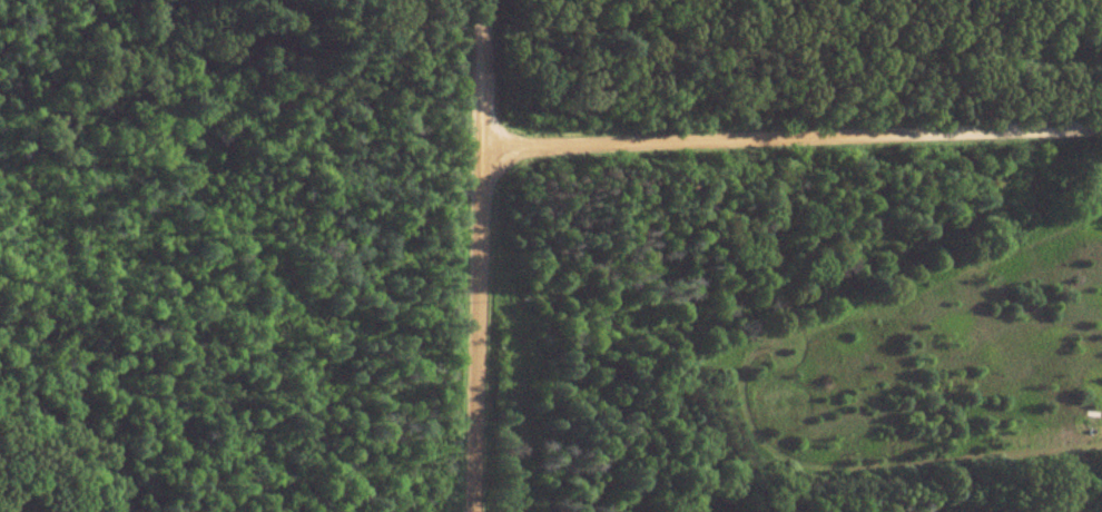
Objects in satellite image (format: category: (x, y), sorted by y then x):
road: (790, 132)
road: (476, 256)

